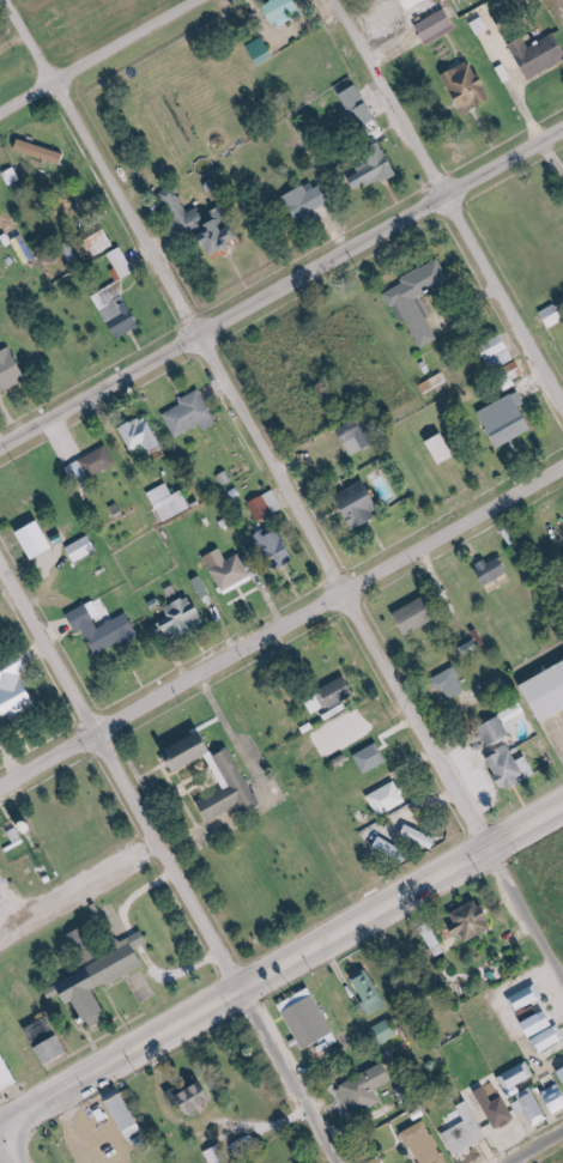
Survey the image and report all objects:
building: (417, 2)
building: (285, 11)
building: (438, 26)
railway: (79, 44)
road: (95, 53)
building: (262, 53)
building: (540, 55)
building: (472, 89)
building: (362, 108)
building: (43, 151)
building: (376, 171)
building: (14, 176)
building: (310, 200)
road: (448, 201)
building: (207, 224)
building: (101, 241)
building: (121, 264)
road: (281, 284)
road: (168, 298)
building: (419, 299)
building: (117, 310)
building: (553, 315)
building: (501, 352)
building: (12, 372)
building: (435, 383)
building: (192, 414)
building: (510, 419)
building: (145, 435)
building: (359, 436)
building: (447, 449)
building: (93, 465)
building: (171, 502)
building: (363, 504)
building: (267, 505)
building: (85, 547)
building: (278, 549)
building: (231, 570)
building: (495, 570)
building: (419, 614)
building: (181, 618)
building: (0, 620)
building: (105, 628)
road: (281, 628)
building: (456, 682)
building: (16, 690)
building: (343, 691)
building: (550, 693)
building: (321, 702)
building: (497, 732)
building: (375, 758)
building: (511, 768)
building: (202, 773)
road: (447, 796)
building: (391, 799)
building: (425, 837)
building: (394, 849)
road: (171, 866)
building: (1, 880)
building: (474, 920)
building: (115, 925)
building: (434, 938)
building: (86, 944)
road: (279, 958)
building: (105, 980)
building: (371, 992)
building: (528, 998)
building: (313, 1023)
building: (386, 1031)
building: (546, 1031)
building: (57, 1047)
building: (11, 1067)
building: (561, 1074)
building: (367, 1090)
building: (525, 1092)
building: (199, 1096)
building: (556, 1098)
building: (498, 1109)
building: (126, 1113)
building: (467, 1132)
building: (428, 1144)
road: (534, 1146)
building: (218, 1155)
road: (0, 1162)

